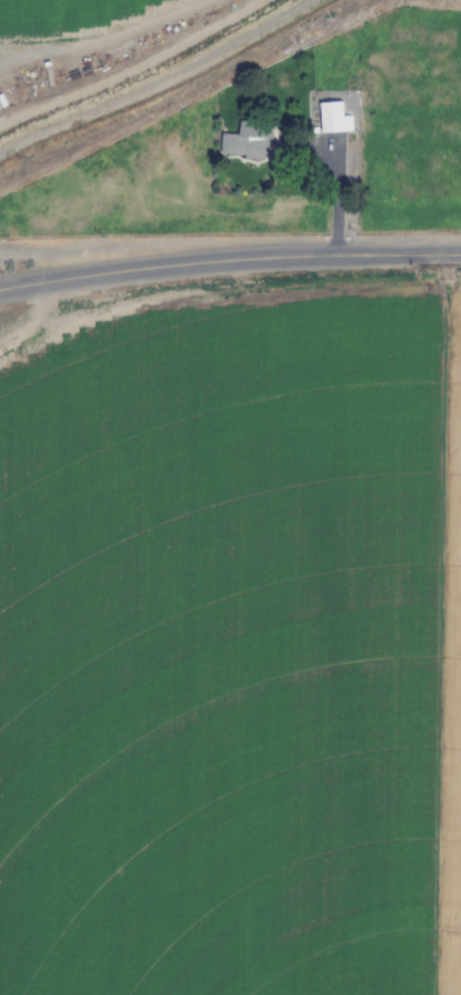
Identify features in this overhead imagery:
building: (334, 118)
building: (249, 141)
road: (228, 240)

